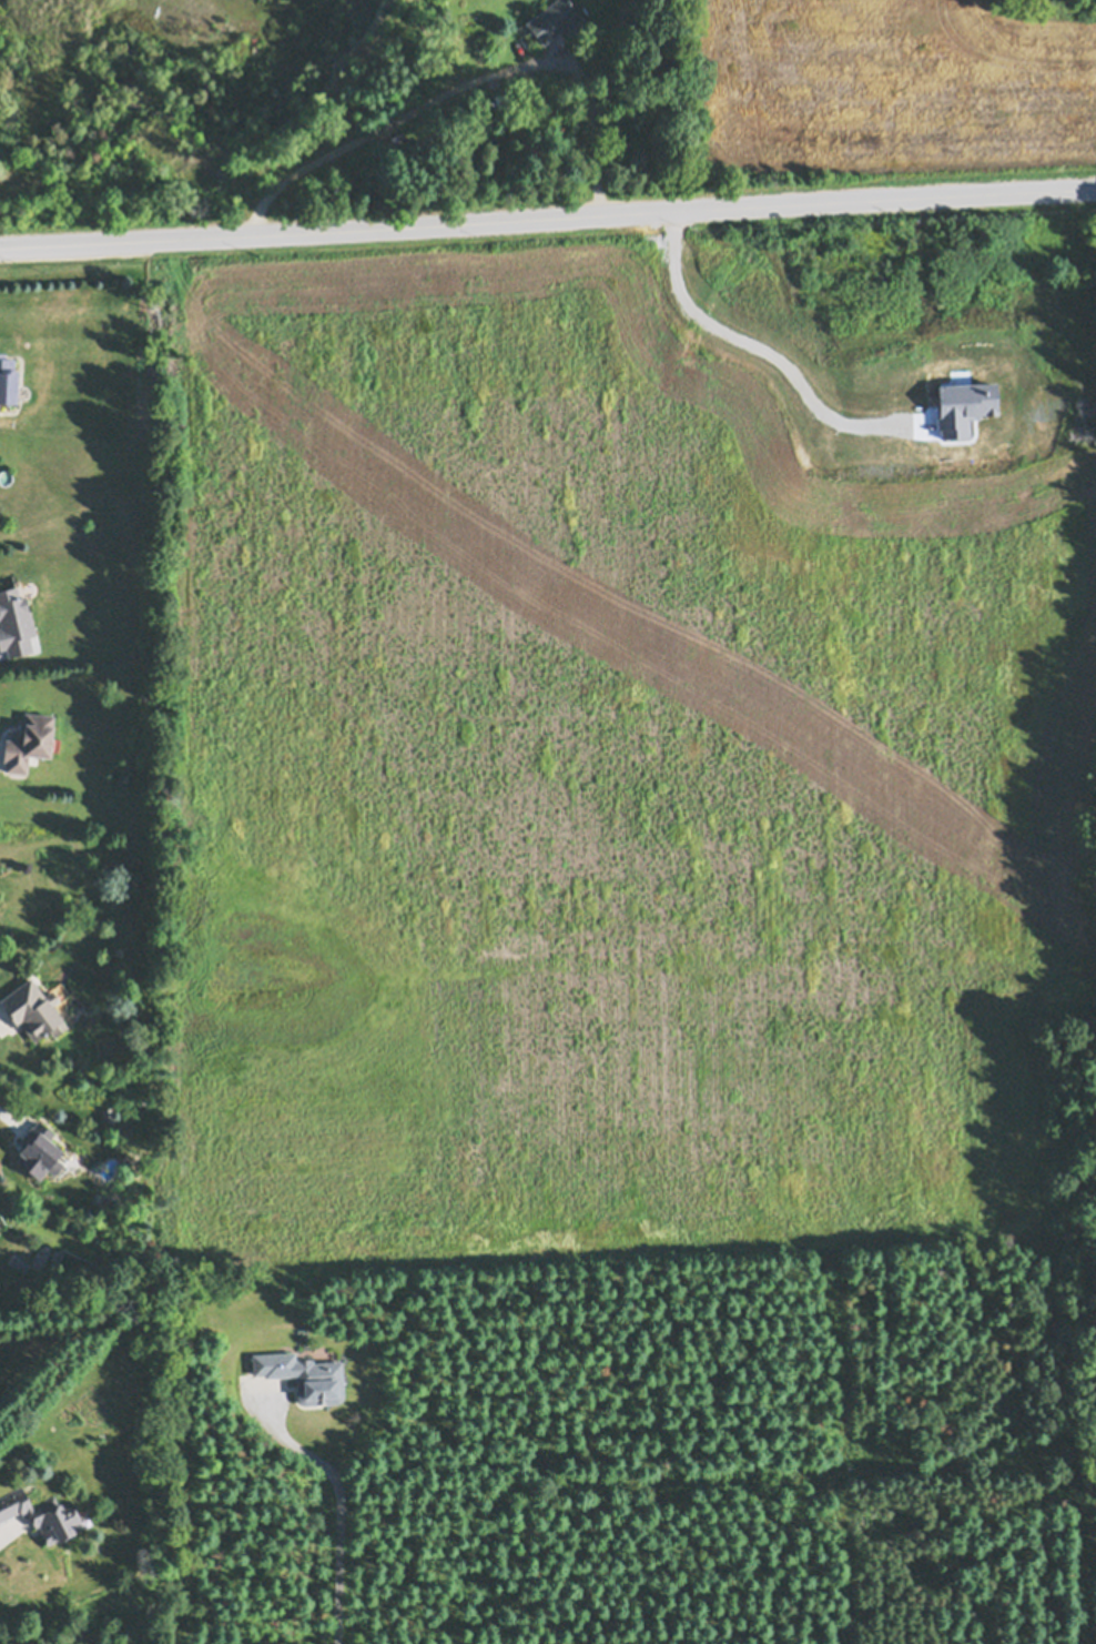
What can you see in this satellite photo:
building: (556, 19)
road: (469, 82)
building: (503, 99)
road: (547, 216)
road: (760, 349)
building: (8, 376)
building: (14, 621)
building: (29, 739)
road: (81, 830)
building: (34, 1008)
building: (109, 1112)
building: (38, 1149)
building: (21, 1263)
building: (305, 1374)
road: (347, 1497)
building: (43, 1513)
road: (9, 1527)

